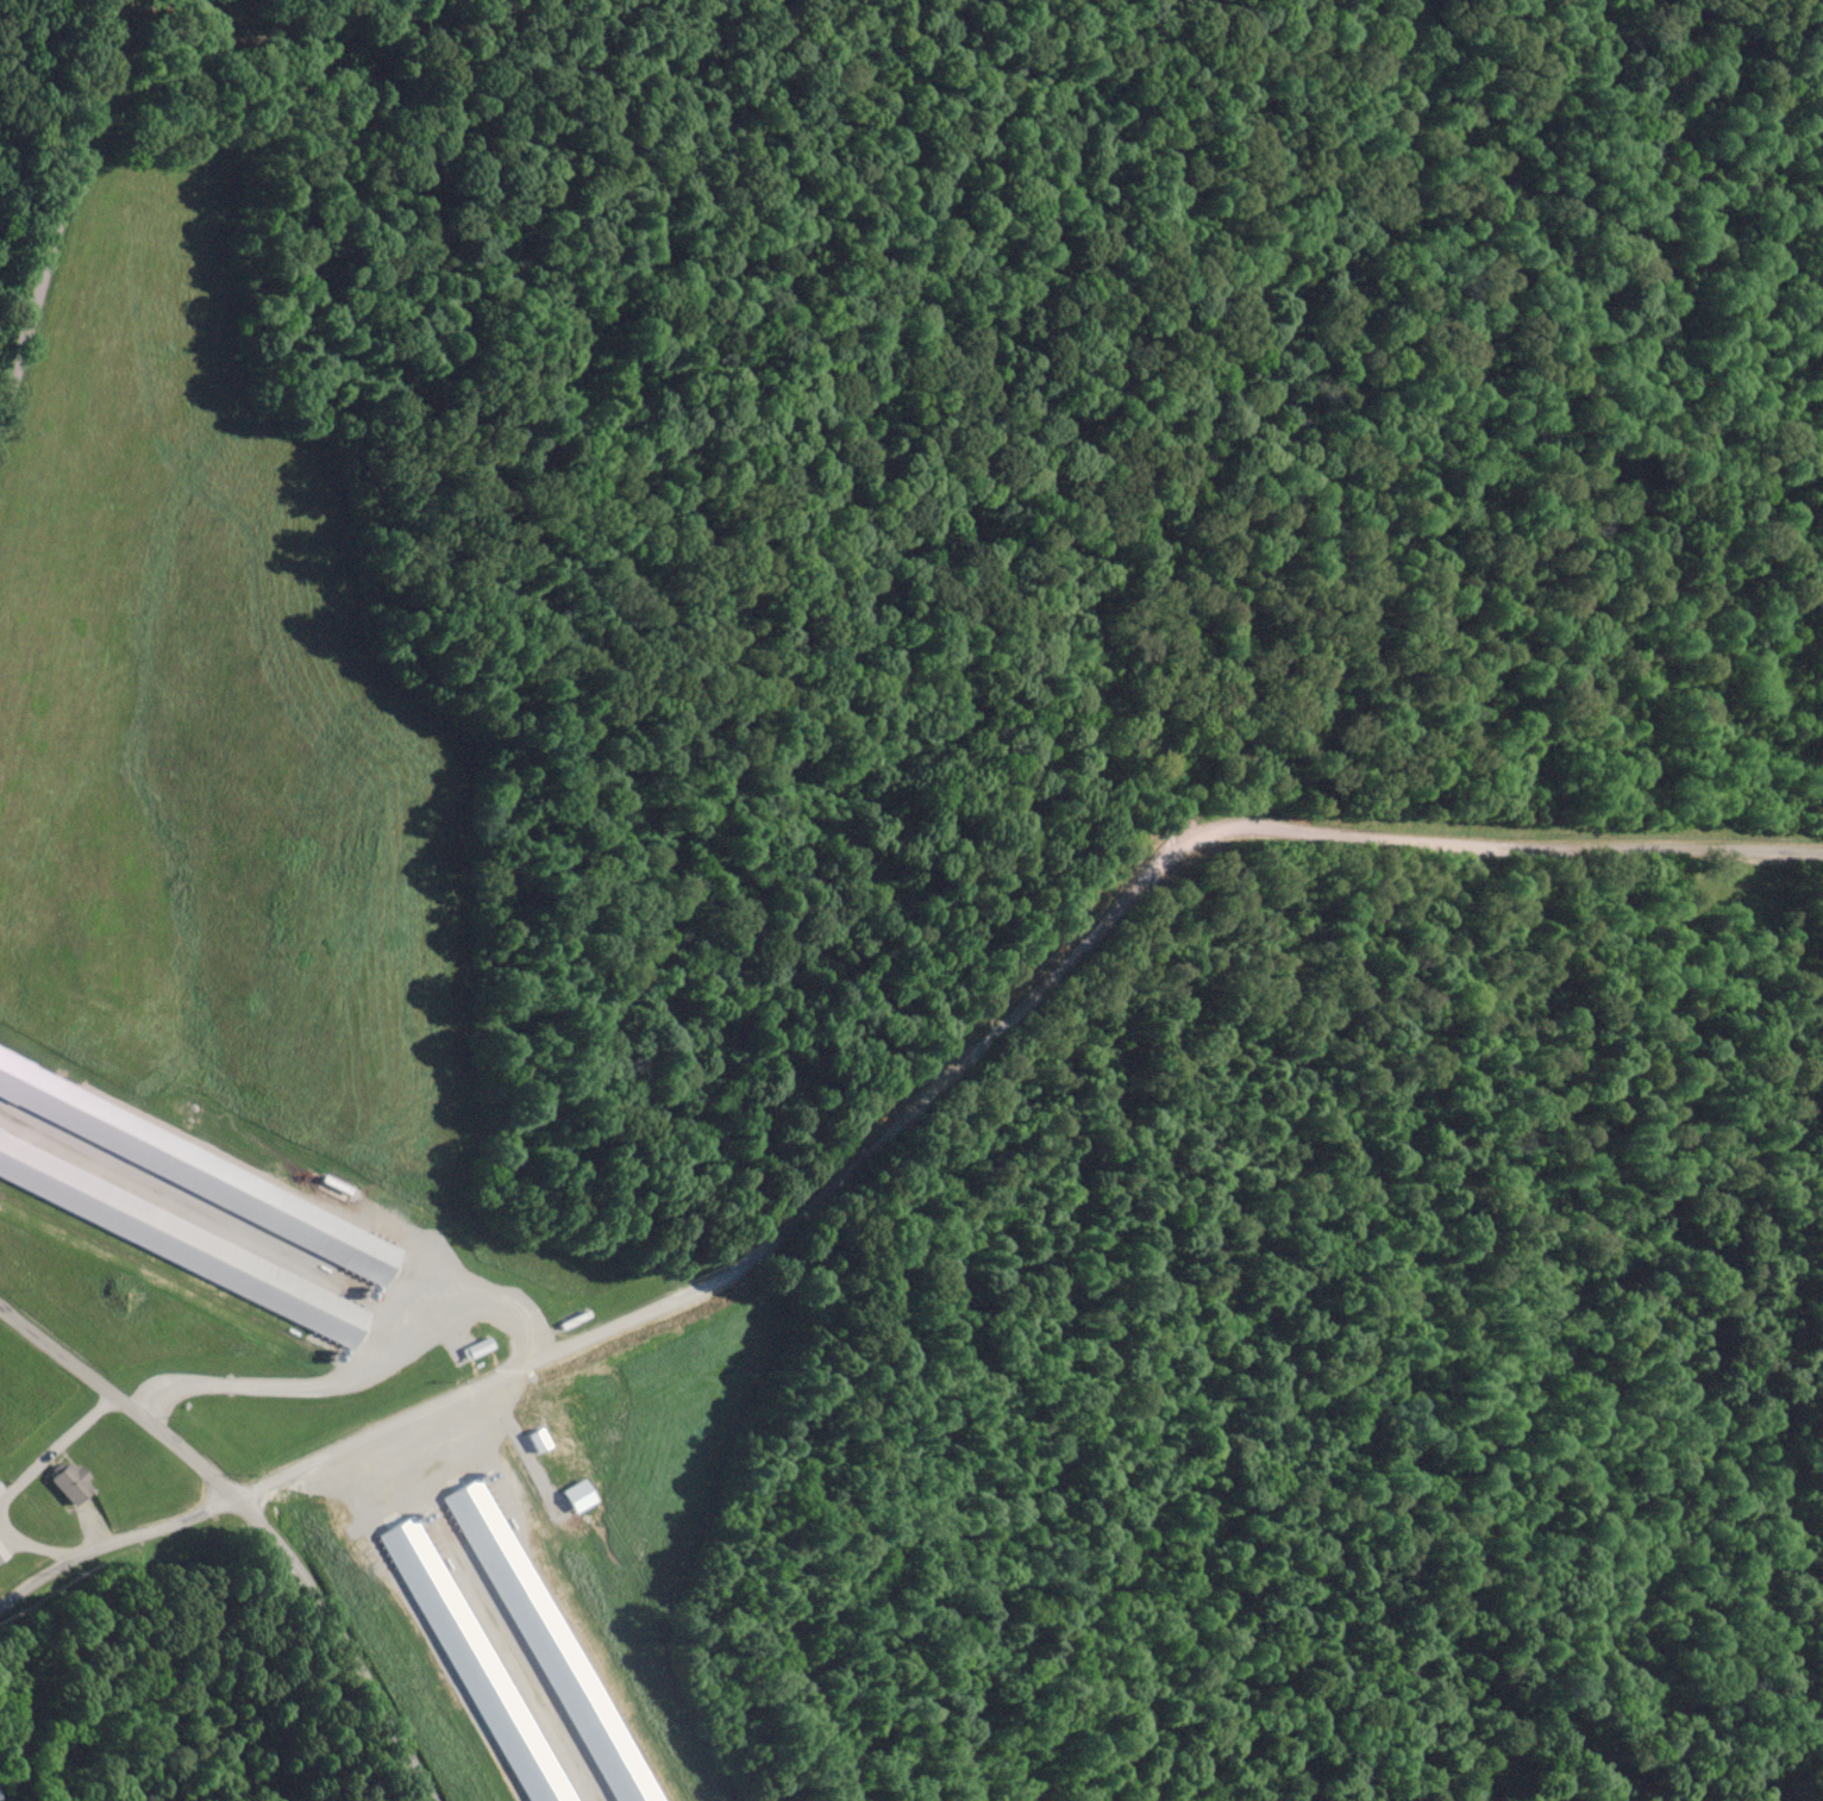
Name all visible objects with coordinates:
road: (58, 212)
road: (1502, 845)
road: (765, 1246)
building: (512, 1314)
building: (68, 1476)
road: (257, 1517)
road: (114, 1542)
building: (2, 1553)

